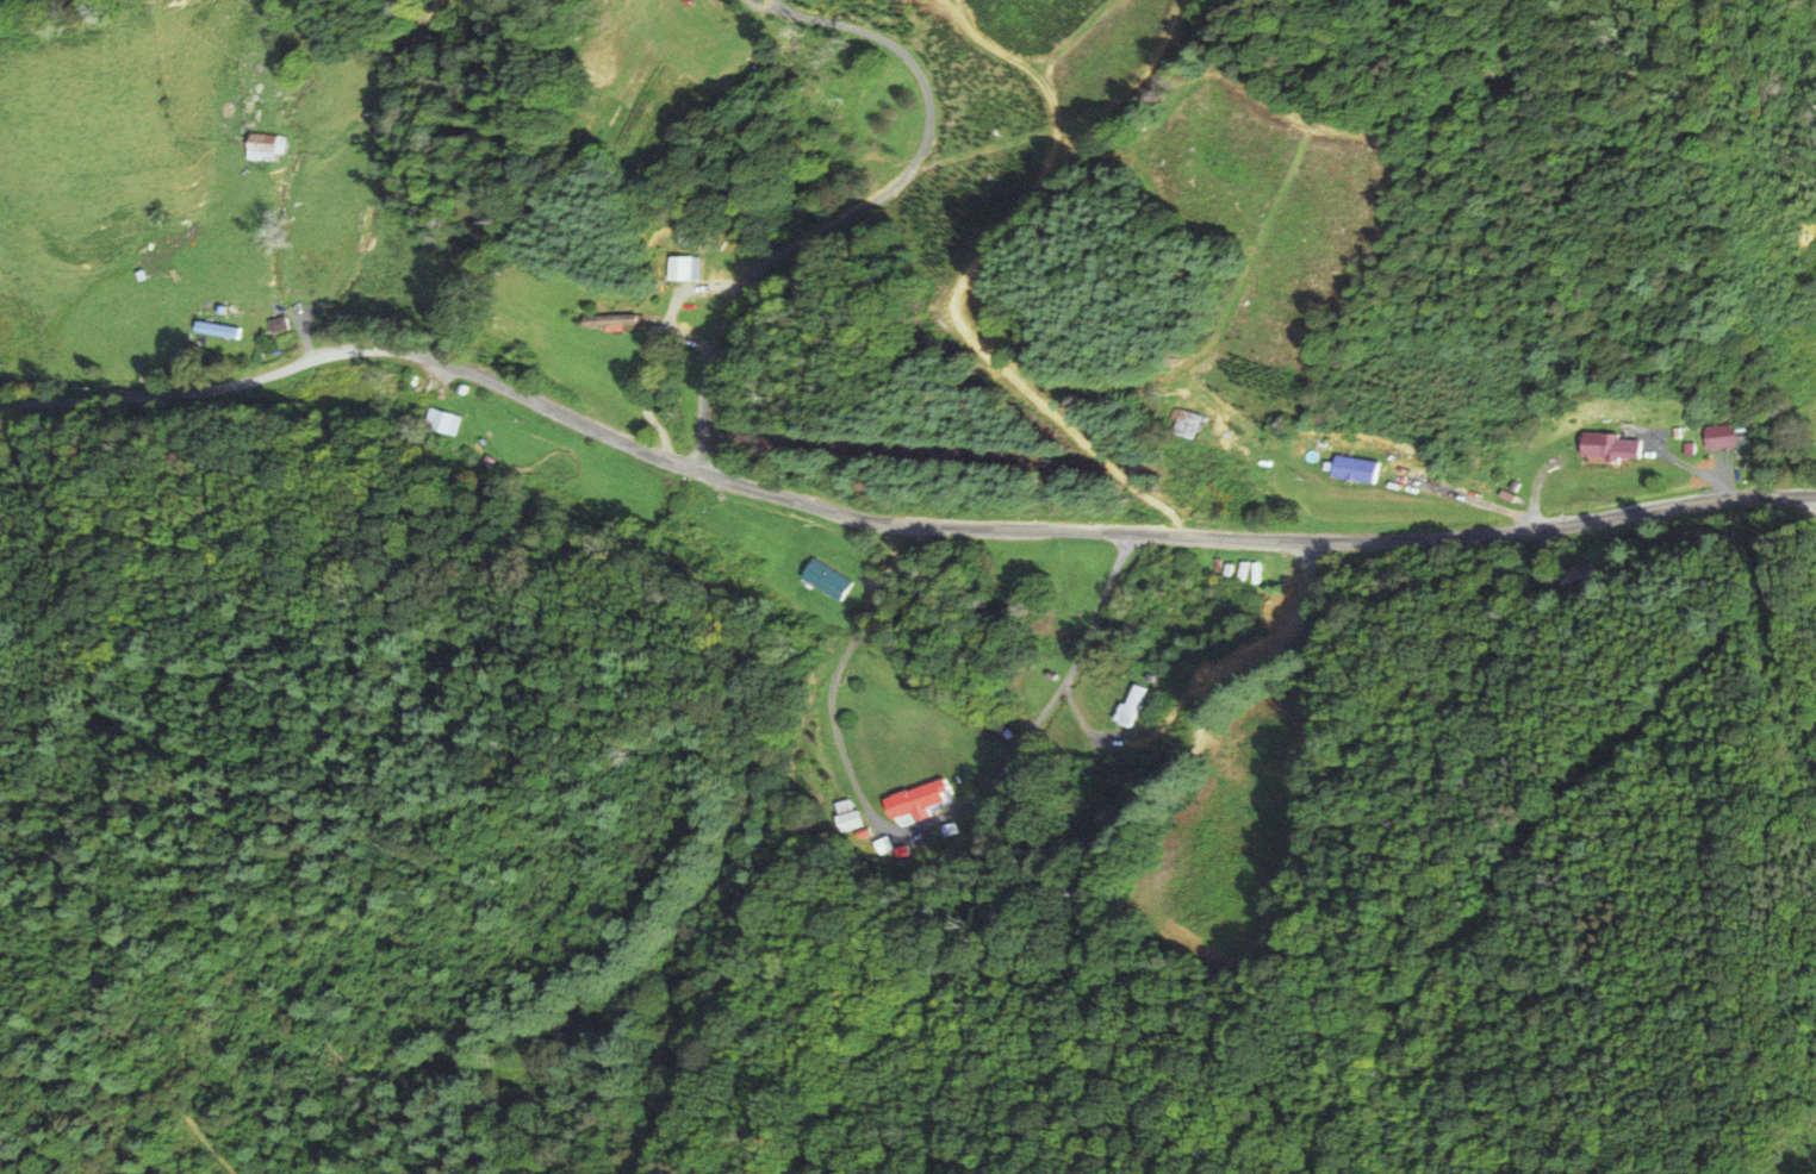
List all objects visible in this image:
road: (860, 212)
road: (890, 526)
road: (1610, 766)
road: (909, 830)
road: (199, 1134)

